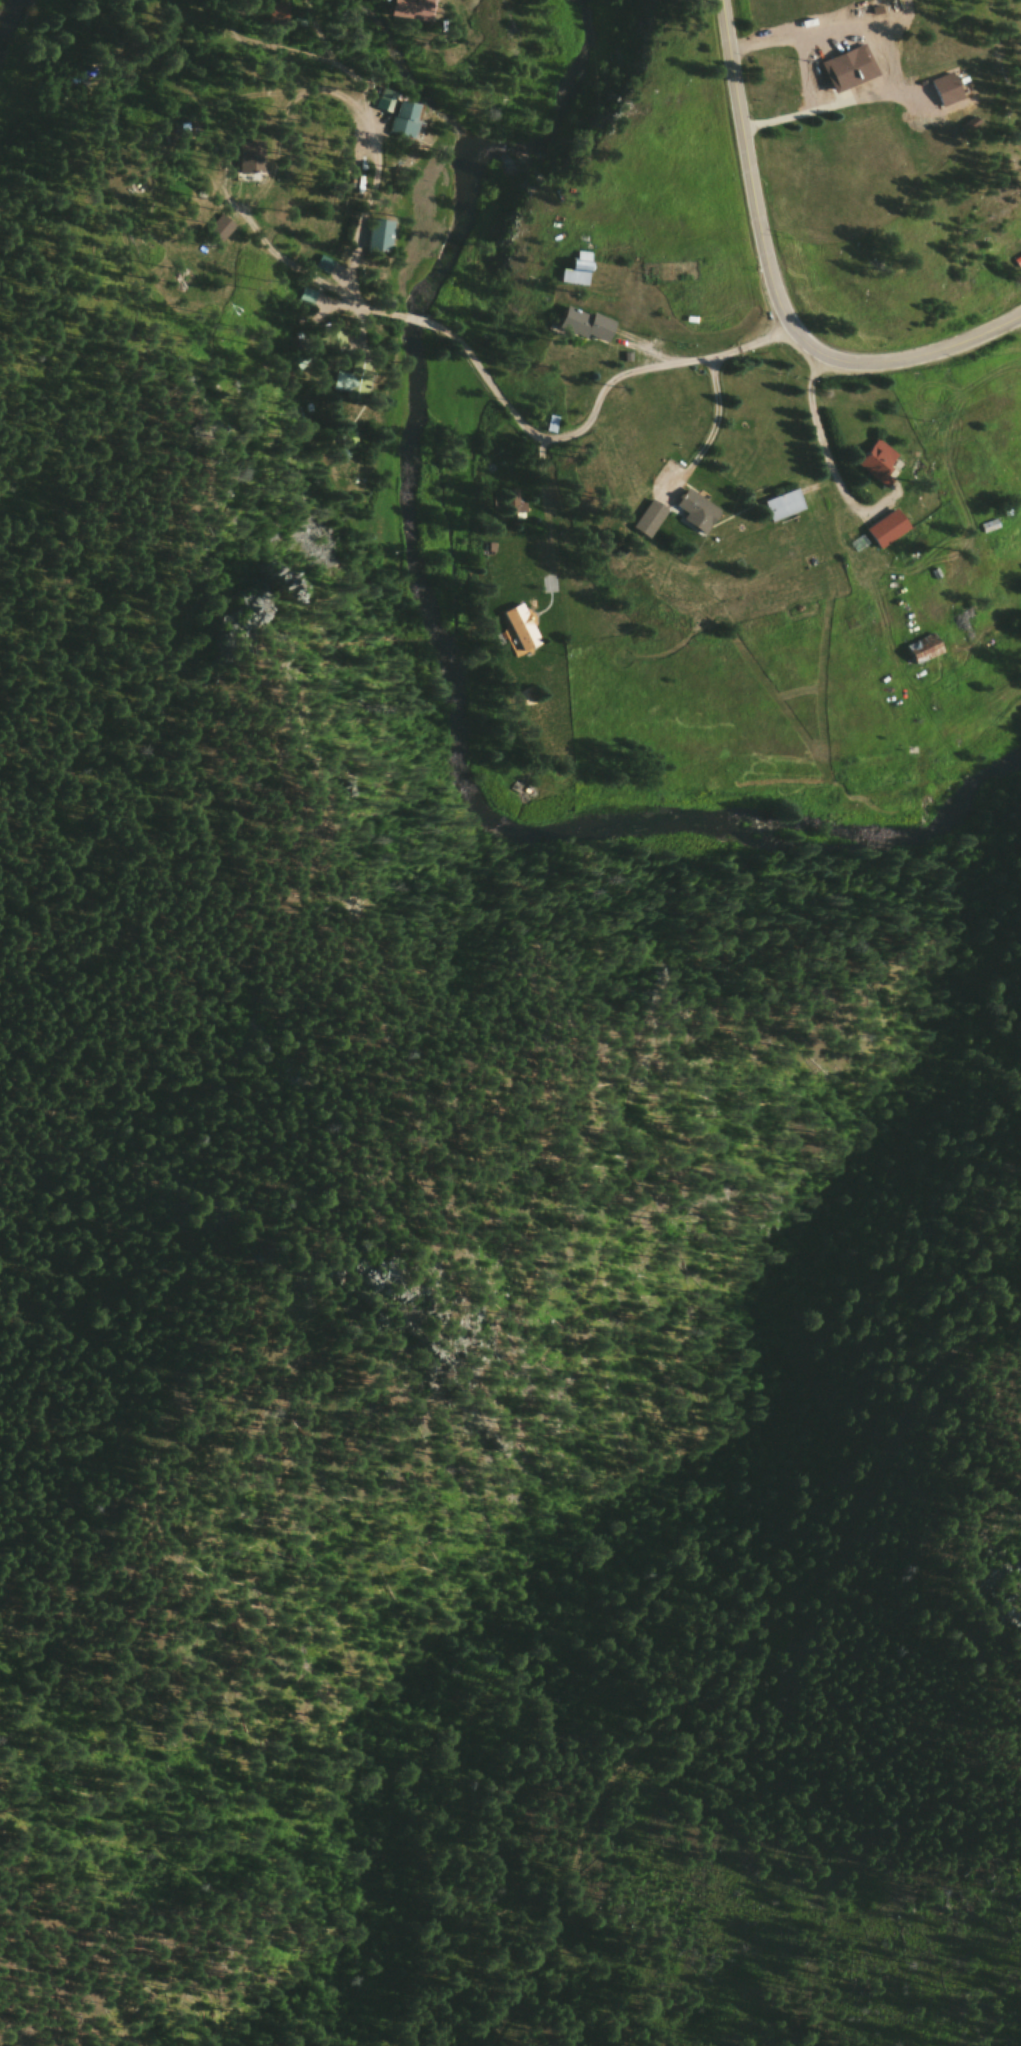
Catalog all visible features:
road: (448, 3)
building: (410, 17)
building: (275, 20)
road: (248, 81)
building: (853, 82)
building: (956, 106)
building: (104, 107)
building: (394, 123)
road: (799, 124)
road: (368, 146)
building: (250, 167)
building: (219, 239)
building: (374, 245)
building: (582, 278)
road: (312, 284)
road: (775, 290)
road: (421, 329)
building: (587, 335)
building: (330, 352)
building: (343, 390)
road: (595, 417)
road: (710, 439)
road: (824, 456)
building: (882, 471)
building: (510, 513)
building: (788, 513)
building: (699, 523)
building: (653, 531)
road: (548, 533)
building: (893, 541)
building: (518, 632)
building: (930, 657)
road: (499, 983)
road: (706, 1670)
road: (147, 1817)

